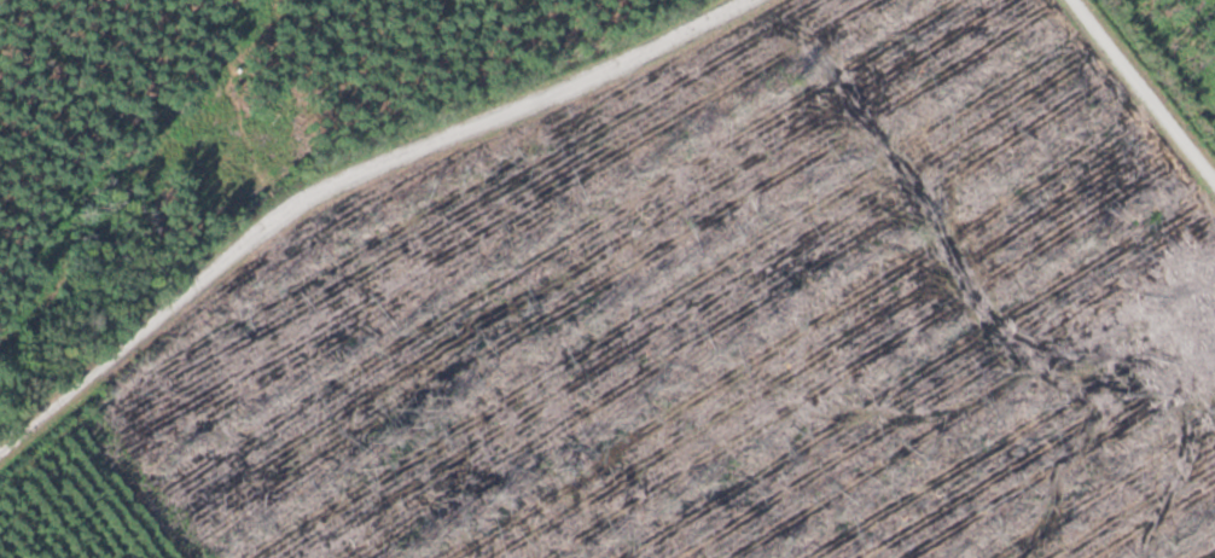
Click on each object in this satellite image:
road: (1146, 88)
road: (339, 185)

